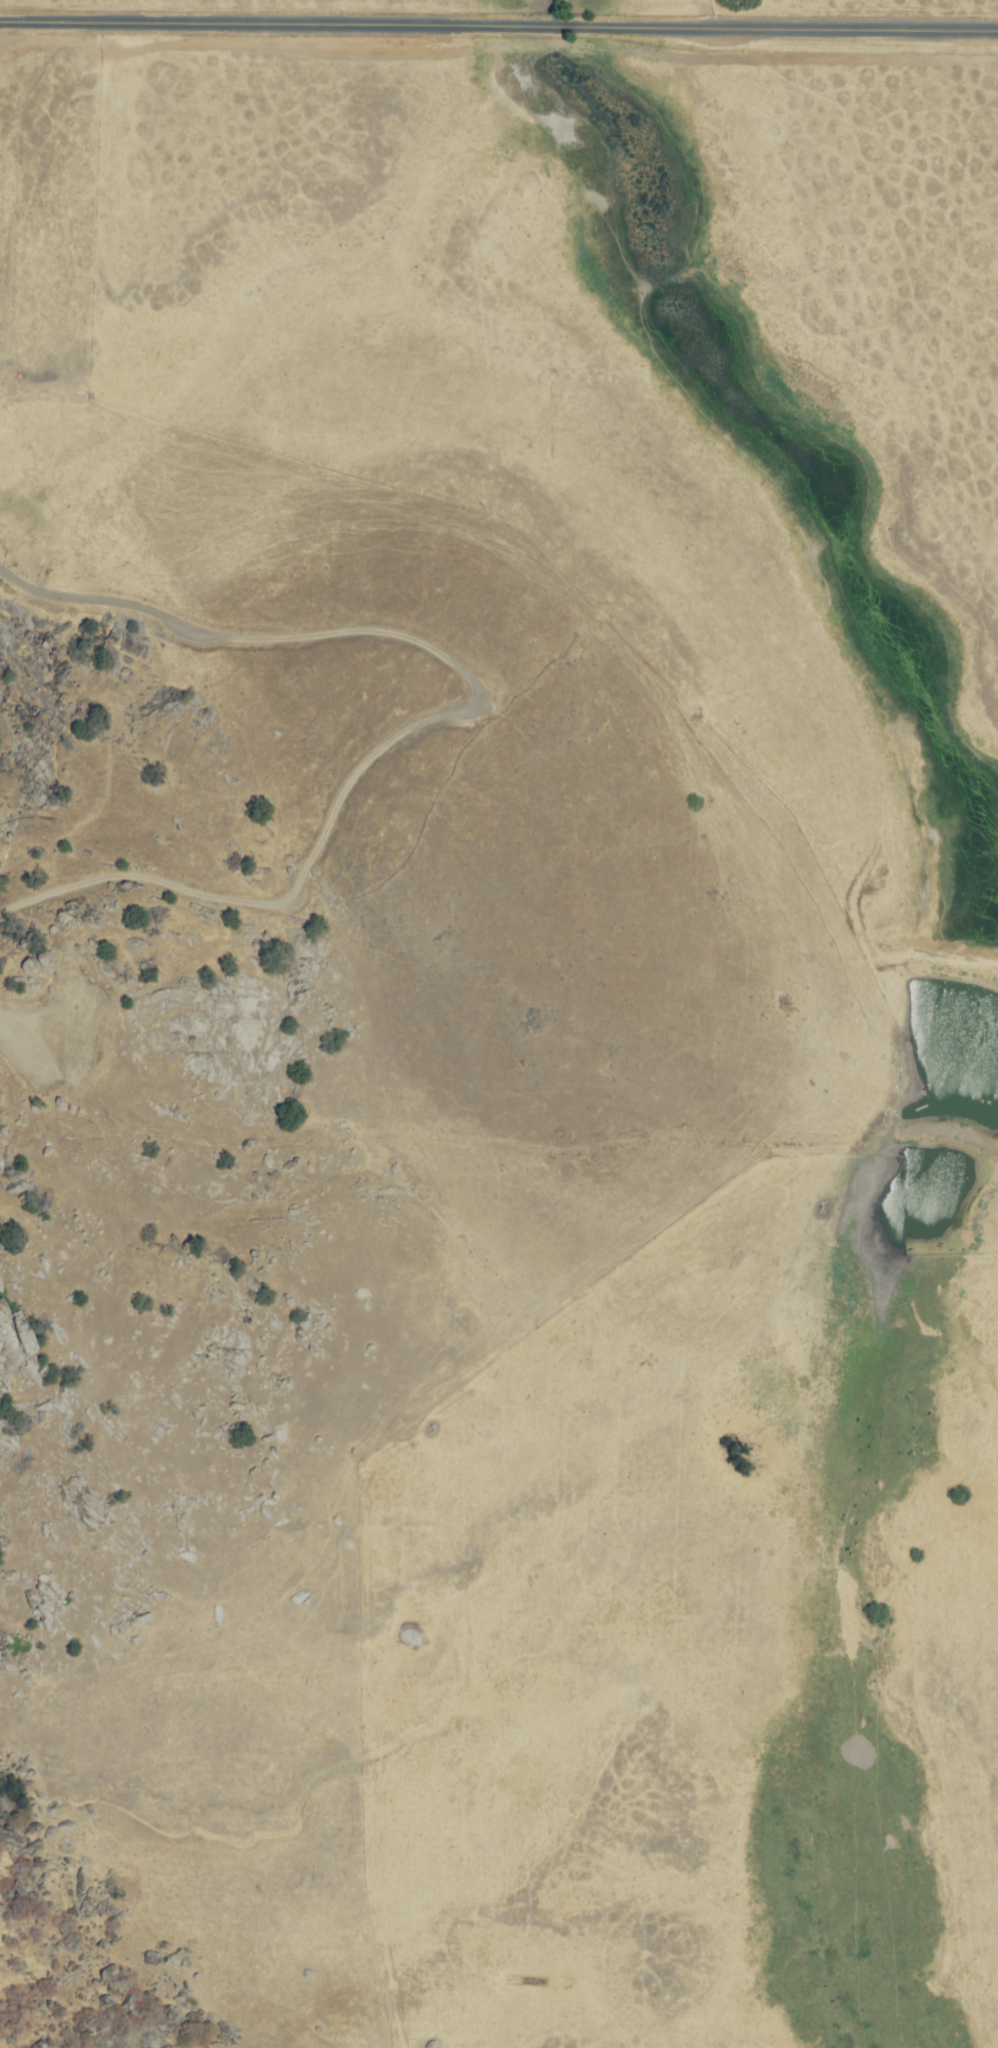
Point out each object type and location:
road: (499, 25)
crop: (488, 89)
crop: (184, 231)
crop: (945, 987)
crop: (521, 1573)

